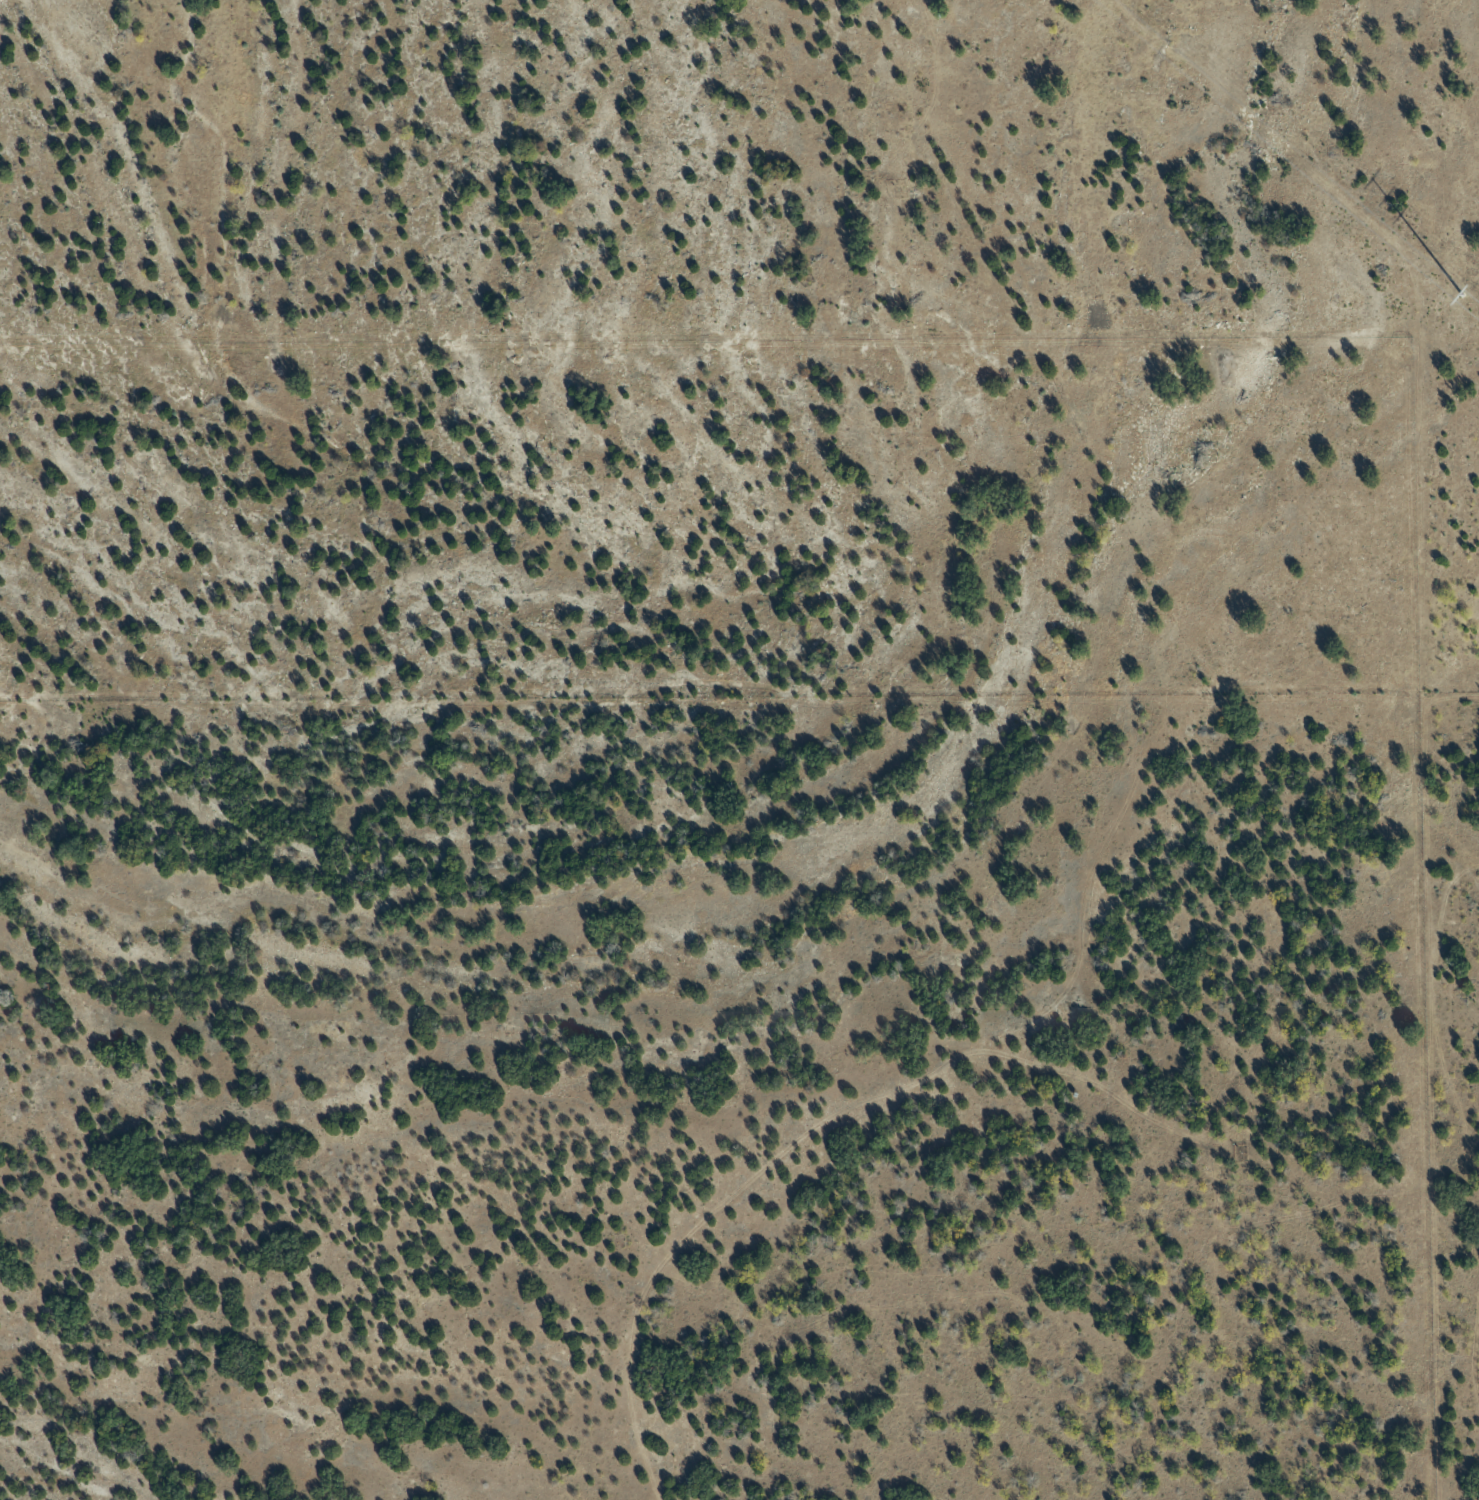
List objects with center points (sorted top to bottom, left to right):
power tower: (1458, 294)

